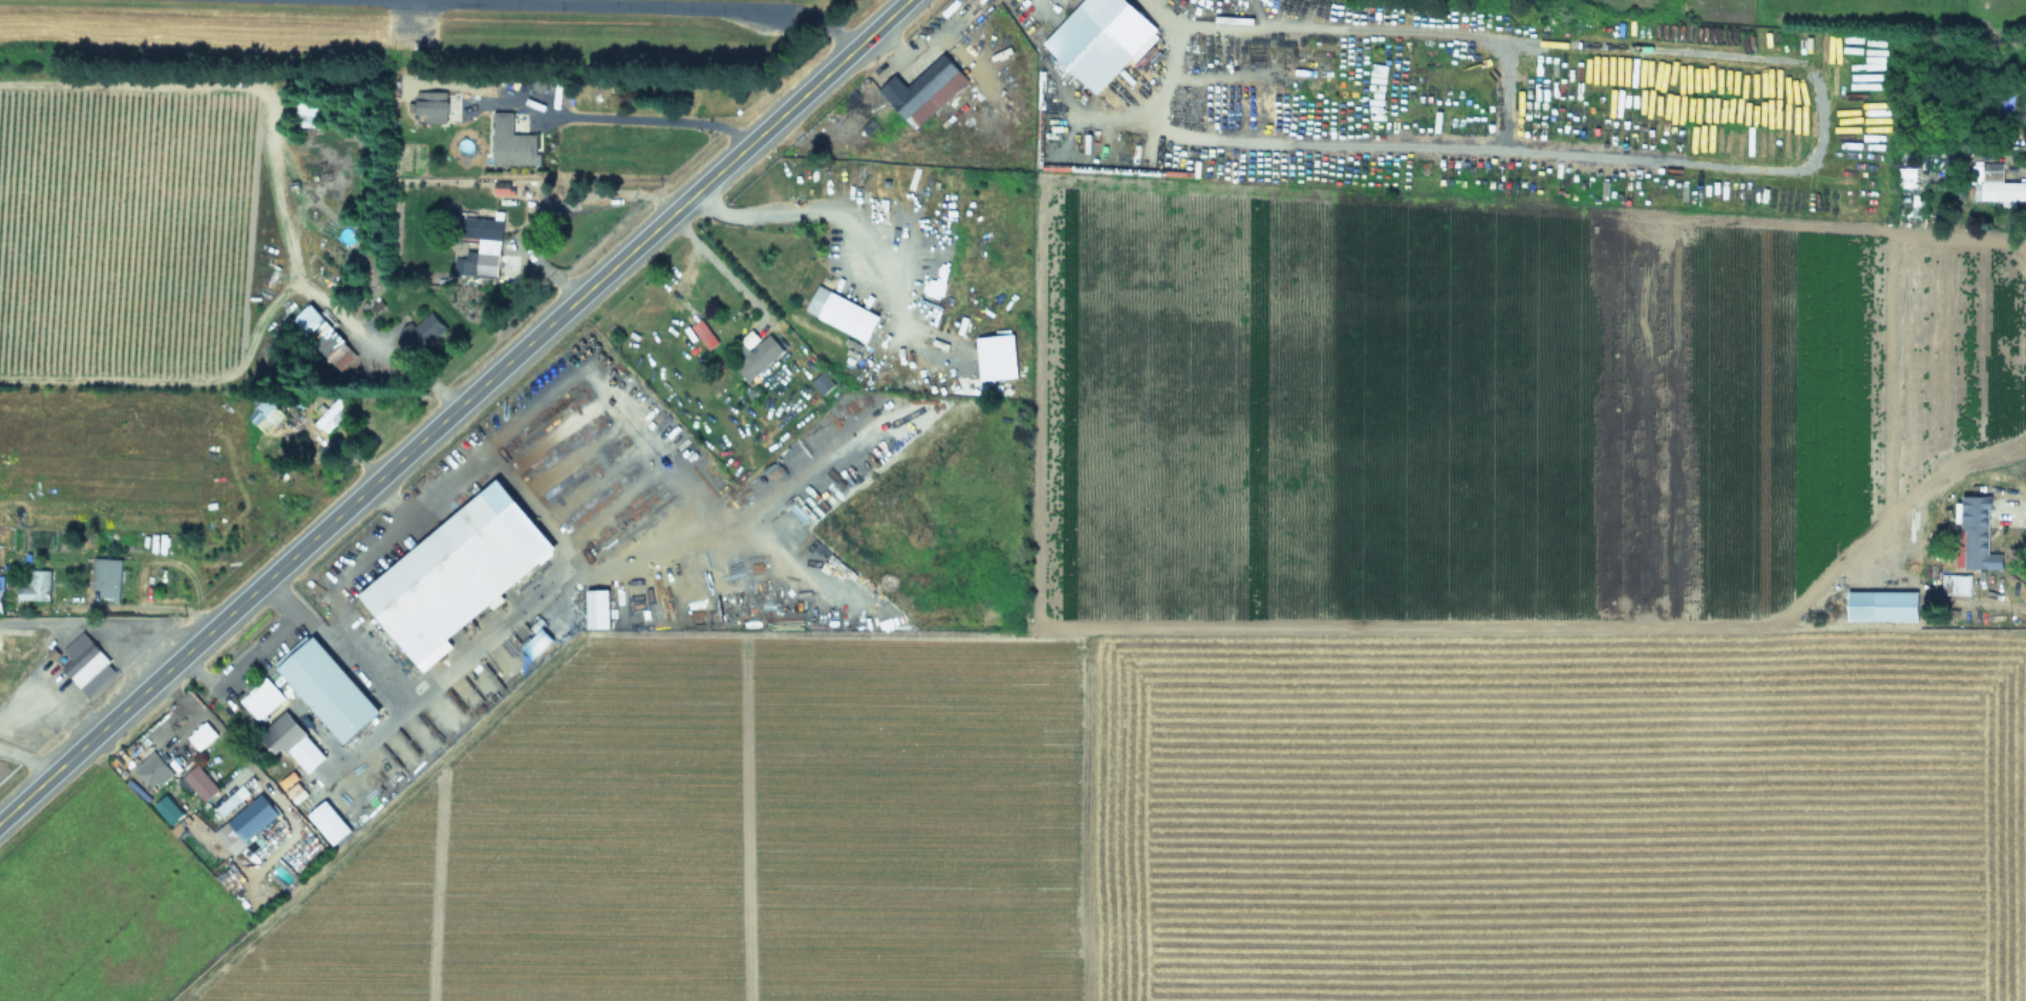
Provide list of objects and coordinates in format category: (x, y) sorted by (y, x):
airport runway: (608, 3)
road: (794, 8)
airport: (387, 31)
building: (1090, 46)
building: (925, 92)
building: (2008, 104)
building: (433, 109)
road: (638, 116)
building: (311, 117)
building: (514, 144)
building: (1998, 189)
road: (796, 211)
building: (486, 245)
road: (714, 261)
road: (552, 272)
crop: (250, 294)
building: (843, 315)
building: (319, 334)
building: (420, 336)
road: (374, 349)
building: (760, 360)
building: (823, 385)
road: (454, 411)
building: (266, 417)
building: (332, 418)
building: (1978, 534)
crop: (1327, 566)
building: (107, 580)
building: (451, 581)
building: (1956, 587)
building: (36, 588)
building: (1, 599)
building: (1897, 608)
road: (100, 624)
building: (538, 645)
building: (87, 667)
building: (322, 692)
road: (47, 695)
building: (262, 701)
road: (184, 722)
building: (284, 736)
building: (204, 737)
road: (26, 760)
building: (154, 772)
building: (201, 785)
building: (233, 802)
building: (254, 823)
building: (226, 837)

